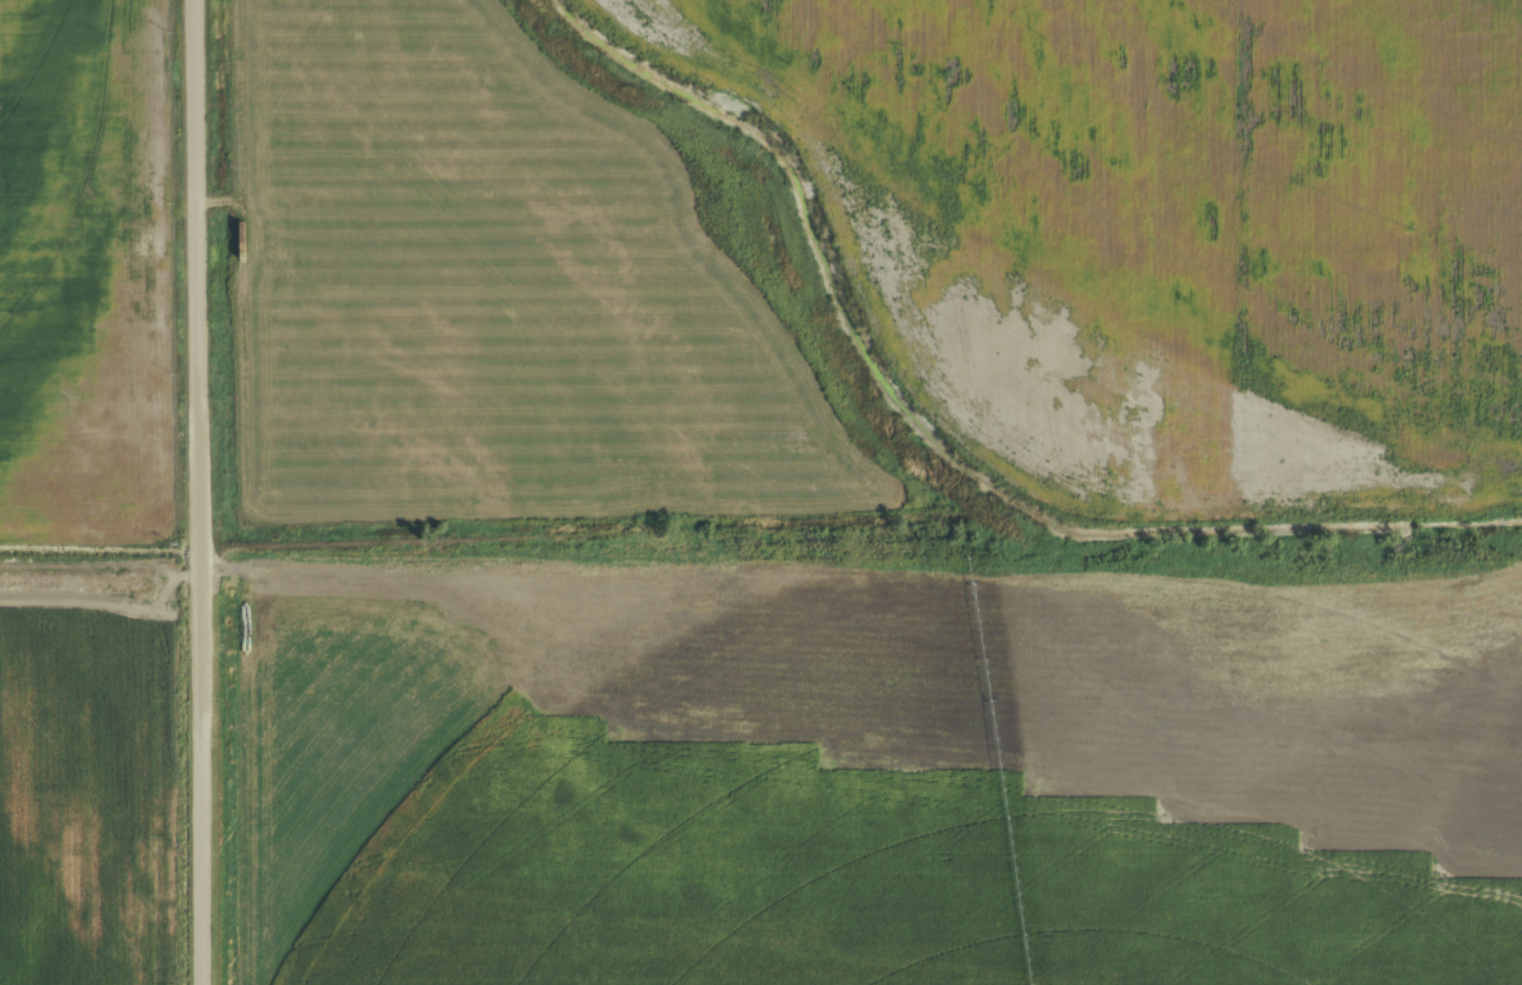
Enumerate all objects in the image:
road: (200, 492)

